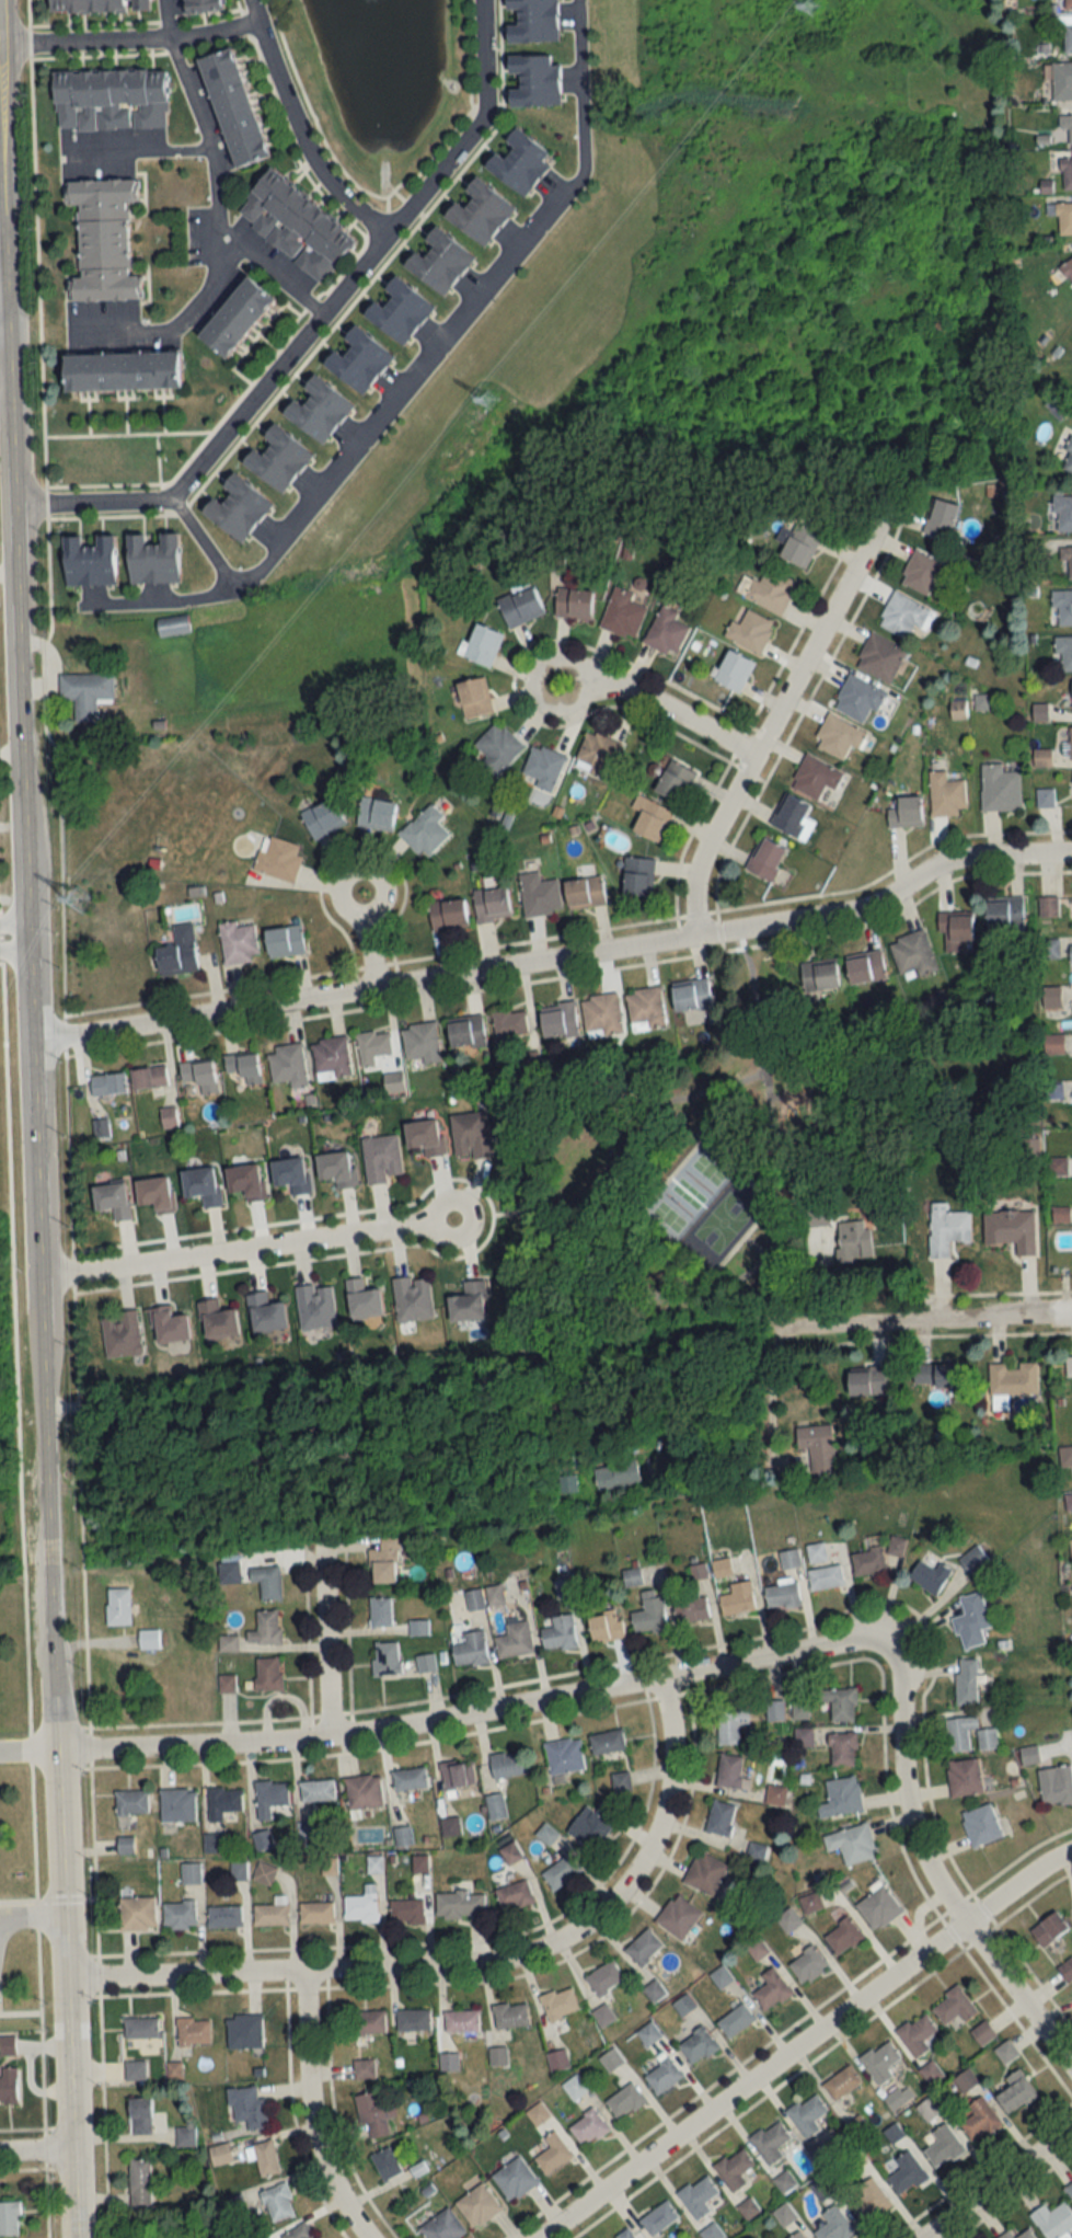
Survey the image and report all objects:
building: (1068, 4)
building: (96, 5)
building: (200, 5)
power tower: (814, 9)
road: (169, 18)
building: (531, 21)
road: (131, 36)
building: (1068, 38)
building: (534, 81)
building: (1060, 81)
building: (109, 99)
building: (233, 107)
building: (1067, 125)
road: (303, 130)
road: (206, 134)
road: (141, 149)
building: (518, 159)
building: (1067, 172)
building: (479, 210)
building: (1064, 218)
building: (295, 223)
building: (102, 238)
building: (438, 259)
building: (1068, 268)
road: (272, 274)
building: (397, 309)
road: (2, 310)
building: (234, 314)
road: (315, 321)
road: (176, 323)
building: (356, 358)
building: (120, 368)
road: (416, 374)
power tower: (488, 402)
building: (315, 406)
building: (276, 456)
building: (1067, 458)
building: (235, 506)
building: (1062, 513)
building: (940, 517)
road: (205, 540)
building: (798, 544)
building: (151, 558)
building: (88, 560)
building: (1067, 563)
building: (922, 573)
building: (769, 589)
building: (572, 601)
building: (519, 605)
building: (1063, 607)
building: (621, 612)
building: (903, 615)
building: (749, 630)
building: (665, 631)
building: (481, 643)
building: (1064, 652)
building: (879, 657)
building: (733, 670)
road: (598, 676)
building: (85, 691)
building: (473, 696)
building: (857, 698)
road: (772, 723)
building: (838, 735)
building: (1070, 742)
building: (497, 747)
building: (596, 754)
building: (543, 766)
building: (814, 777)
building: (673, 781)
building: (999, 788)
building: (945, 794)
building: (376, 812)
building: (904, 812)
building: (322, 817)
building: (792, 817)
building: (649, 818)
building: (424, 830)
building: (278, 859)
building: (764, 859)
building: (637, 875)
road: (385, 884)
building: (584, 892)
building: (539, 895)
power tower: (81, 899)
building: (491, 904)
building: (1047, 905)
building: (1004, 910)
building: (447, 914)
road: (14, 928)
building: (955, 931)
building: (284, 940)
building: (237, 941)
building: (177, 951)
building: (1070, 952)
building: (912, 954)
road: (558, 955)
building: (865, 966)
building: (818, 975)
building: (690, 994)
building: (645, 1008)
building: (601, 1014)
building: (558, 1020)
building: (508, 1024)
building: (465, 1032)
building: (419, 1041)
building: (372, 1046)
building: (331, 1057)
building: (288, 1064)
building: (243, 1066)
building: (199, 1074)
building: (148, 1076)
building: (392, 1081)
building: (107, 1082)
building: (470, 1132)
building: (425, 1133)
building: (383, 1154)
park: (744, 1155)
building: (336, 1164)
building: (289, 1172)
building: (245, 1178)
building: (203, 1184)
building: (153, 1191)
building: (112, 1197)
road: (39, 1198)
building: (817, 1217)
building: (945, 1228)
building: (1011, 1229)
road: (298, 1239)
building: (853, 1240)
building: (362, 1295)
building: (411, 1296)
building: (468, 1297)
building: (314, 1301)
building: (262, 1310)
building: (216, 1316)
road: (923, 1319)
building: (166, 1321)
building: (119, 1332)
building: (1068, 1366)
road: (335, 1369)
building: (936, 1375)
building: (1012, 1379)
building: (866, 1381)
road: (772, 1410)
building: (815, 1448)
building: (616, 1474)
building: (567, 1484)
building: (896, 1547)
building: (1071, 1547)
building: (815, 1552)
building: (788, 1559)
building: (384, 1560)
building: (973, 1560)
building: (867, 1562)
building: (825, 1576)
building: (930, 1576)
building: (267, 1581)
building: (494, 1594)
building: (782, 1595)
road: (24, 1597)
building: (474, 1599)
building: (737, 1599)
building: (118, 1606)
building: (691, 1608)
building: (380, 1611)
building: (649, 1615)
building: (972, 1620)
building: (606, 1627)
building: (265, 1628)
building: (417, 1628)
building: (558, 1633)
building: (148, 1639)
building: (514, 1640)
road: (324, 1645)
building: (470, 1650)
building: (385, 1659)
building: (425, 1663)
building: (267, 1674)
building: (966, 1680)
building: (840, 1703)
building: (799, 1708)
building: (774, 1710)
road: (472, 1711)
building: (730, 1725)
building: (959, 1733)
building: (987, 1738)
building: (607, 1742)
road: (30, 1747)
building: (842, 1751)
building: (564, 1756)
building: (507, 1764)
building: (730, 1772)
building: (458, 1774)
building: (964, 1777)
building: (408, 1779)
building: (1056, 1786)
building: (316, 1791)
building: (362, 1791)
building: (775, 1795)
building: (269, 1798)
building: (841, 1798)
building: (130, 1802)
building: (222, 1803)
building: (177, 1805)
building: (495, 1806)
building: (719, 1818)
building: (591, 1824)
building: (980, 1825)
building: (450, 1826)
building: (851, 1844)
building: (125, 1845)
building: (510, 1853)
building: (328, 1867)
building: (561, 1872)
building: (189, 1873)
building: (704, 1873)
building: (264, 1874)
road: (933, 1874)
building: (514, 1895)
building: (460, 1904)
building: (361, 1906)
building: (877, 1907)
building: (406, 1912)
building: (137, 1913)
building: (315, 1913)
building: (270, 1914)
road: (34, 1915)
building: (178, 1915)
building: (224, 1916)
building: (677, 1916)
road: (1, 1918)
building: (1048, 1929)
building: (842, 1936)
building: (643, 1947)
road: (465, 1961)
building: (807, 1964)
building: (1065, 1970)
building: (603, 1978)
building: (771, 1989)
building: (654, 1990)
building: (560, 2002)
building: (683, 2005)
building: (954, 2007)
building: (509, 2016)
building: (602, 2016)
building: (412, 2020)
building: (735, 2020)
building: (461, 2021)
building: (368, 2022)
building: (140, 2028)
building: (193, 2031)
building: (243, 2031)
building: (982, 2033)
building: (648, 2034)
building: (917, 2035)
road: (796, 2041)
building: (5, 2045)
building: (696, 2045)
building: (1005, 2052)
building: (497, 2056)
building: (557, 2062)
building: (880, 2062)
building: (610, 2063)
building: (364, 2069)
building: (135, 2070)
building: (662, 2076)
building: (842, 2082)
building: (8, 2085)
building: (574, 2088)
building: (1016, 2092)
building: (624, 2101)
building: (247, 2108)
road: (309, 2111)
building: (807, 2114)
building: (372, 2115)
building: (140, 2116)
building: (978, 2121)
building: (587, 2128)
building: (185, 2137)
building: (770, 2142)
building: (943, 2146)
road: (37, 2151)
building: (220, 2155)
building: (265, 2159)
building: (385, 2164)
building: (734, 2169)
building: (906, 2172)
building: (514, 2179)
road: (995, 2181)
building: (139, 2183)
building: (1069, 2190)
building: (698, 2195)
building: (868, 2201)
building: (277, 2202)
building: (477, 2205)
building: (748, 2208)
building: (784, 2215)
building: (658, 2217)
building: (9, 2218)
building: (1053, 2220)
building: (833, 2225)
building: (442, 2227)
building: (300, 2231)
building: (711, 2231)
building: (625, 2235)
building: (797, 2235)
building: (1026, 2235)
building: (1005, 2236)

